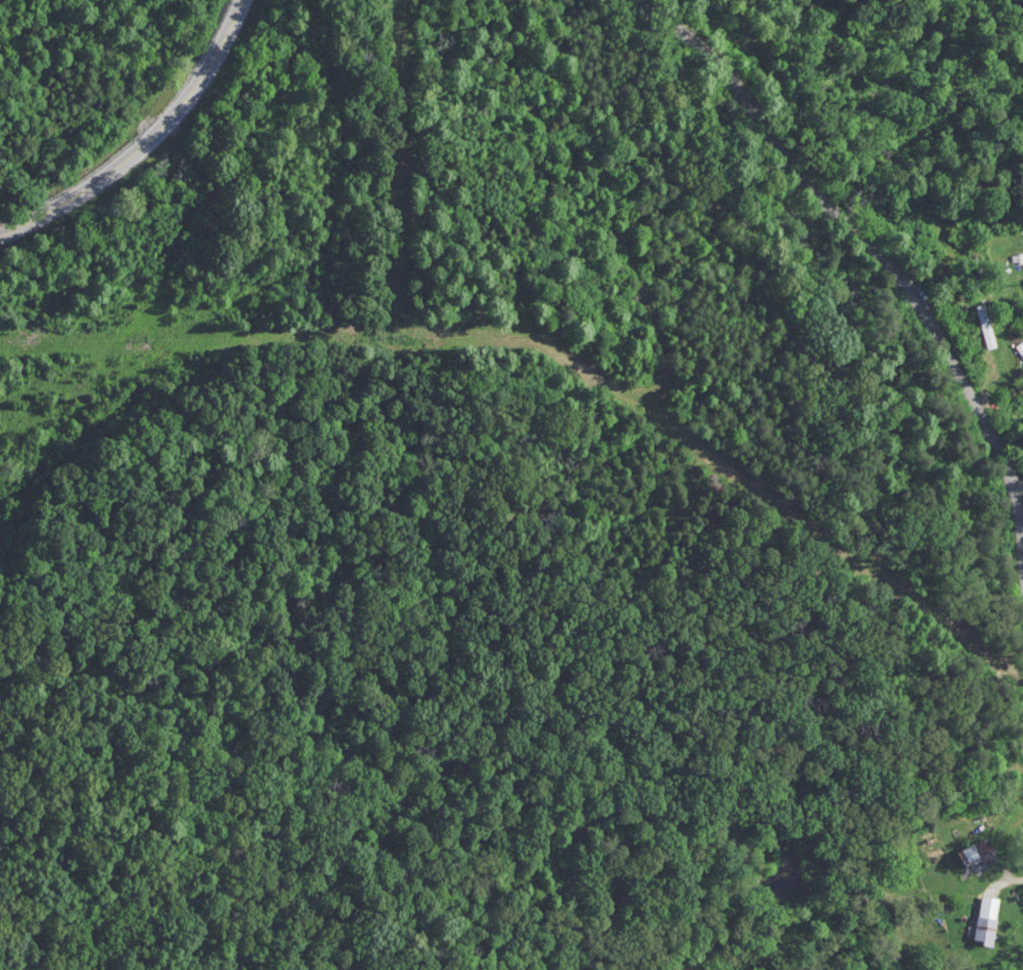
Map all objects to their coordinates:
road: (141, 140)
road: (877, 257)
building: (977, 857)
building: (987, 920)

